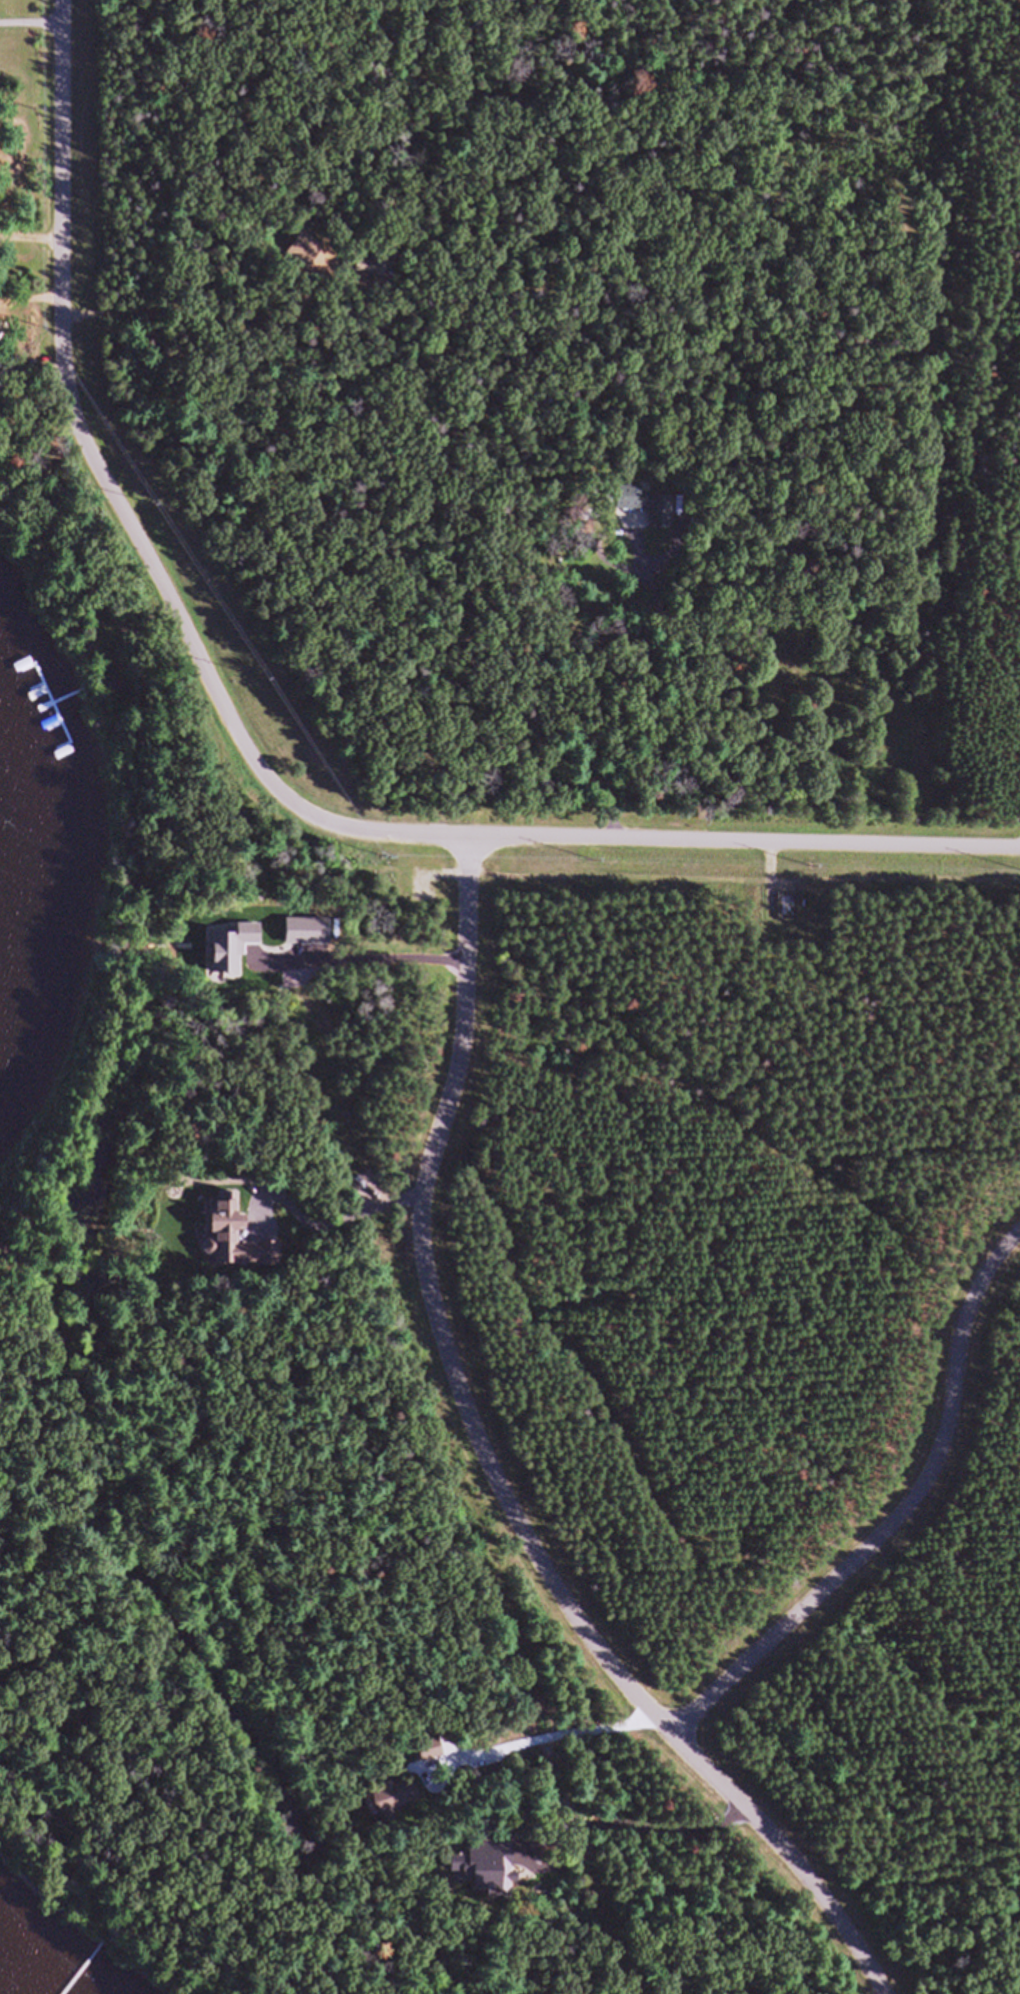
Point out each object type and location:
building: (370, 274)
road: (97, 451)
building: (650, 513)
road: (685, 830)
building: (789, 914)
road: (489, 1459)
road: (893, 1506)
road: (557, 1723)
building: (392, 1803)

